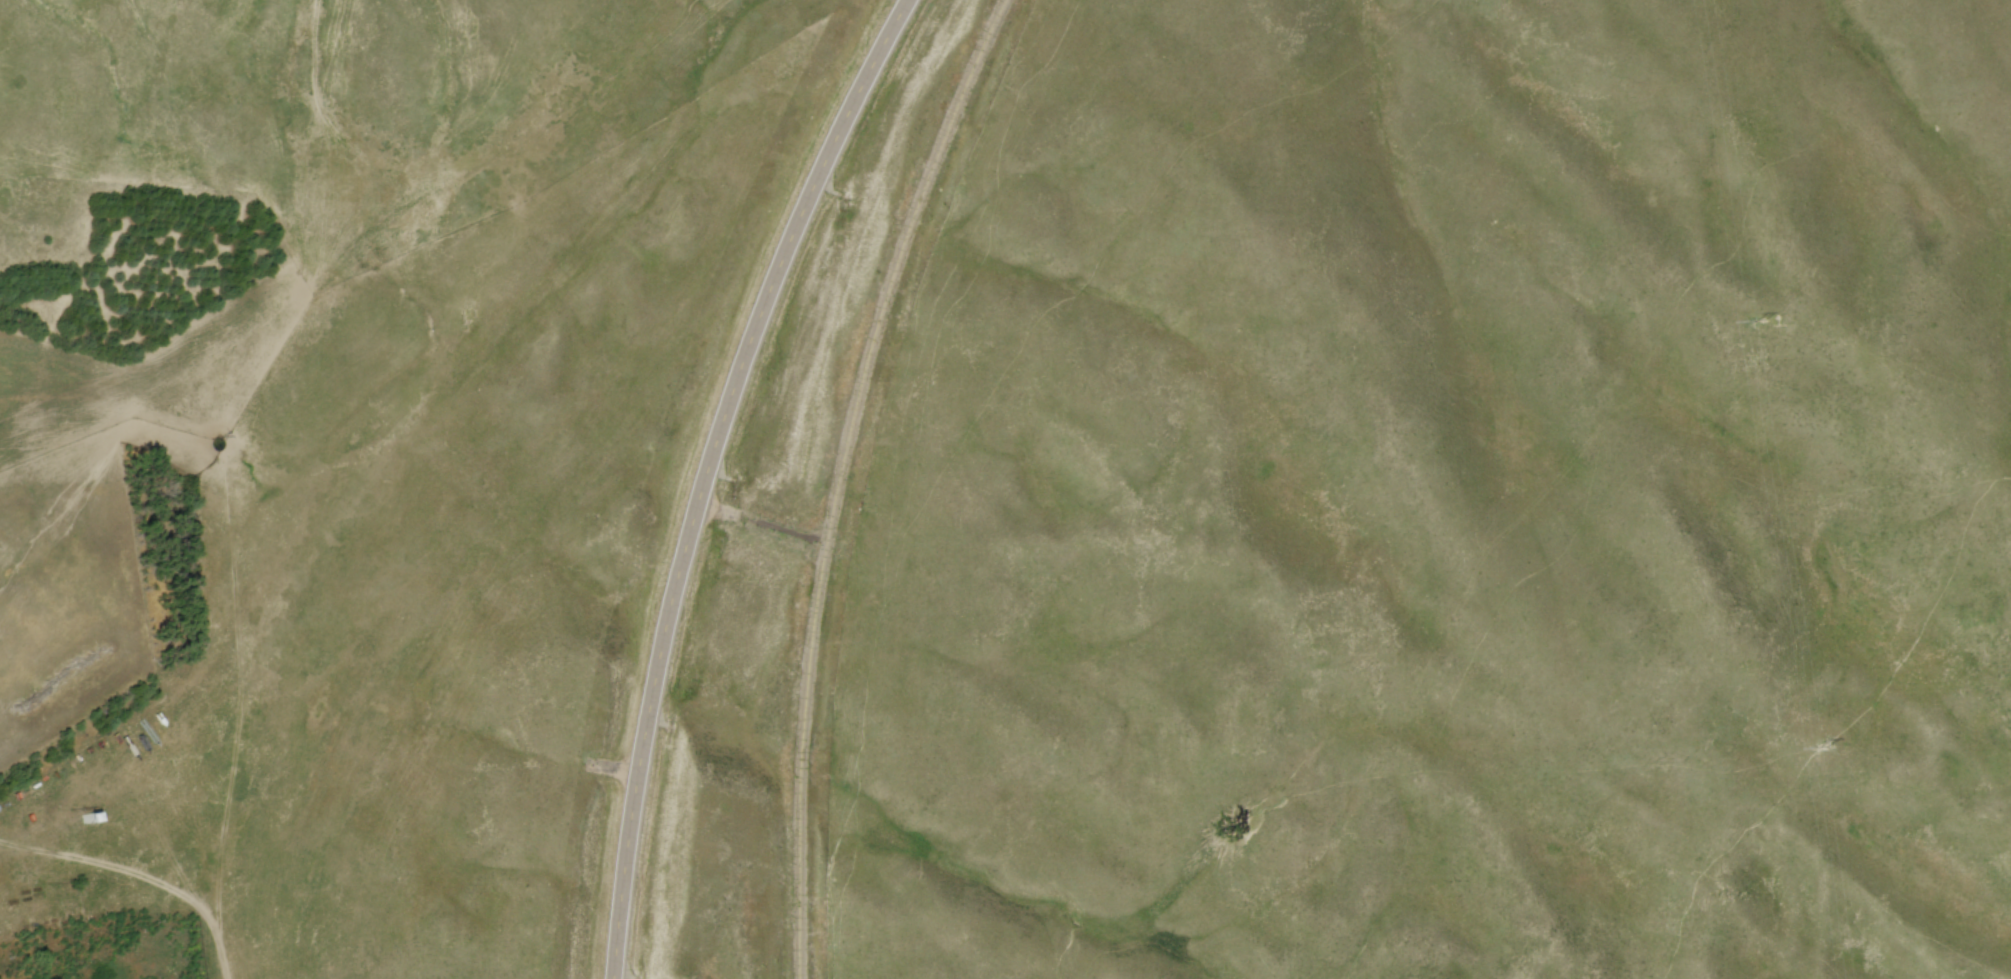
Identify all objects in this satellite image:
power tower: (1759, 322)
road: (711, 472)
road: (851, 475)
power tower: (1823, 748)

